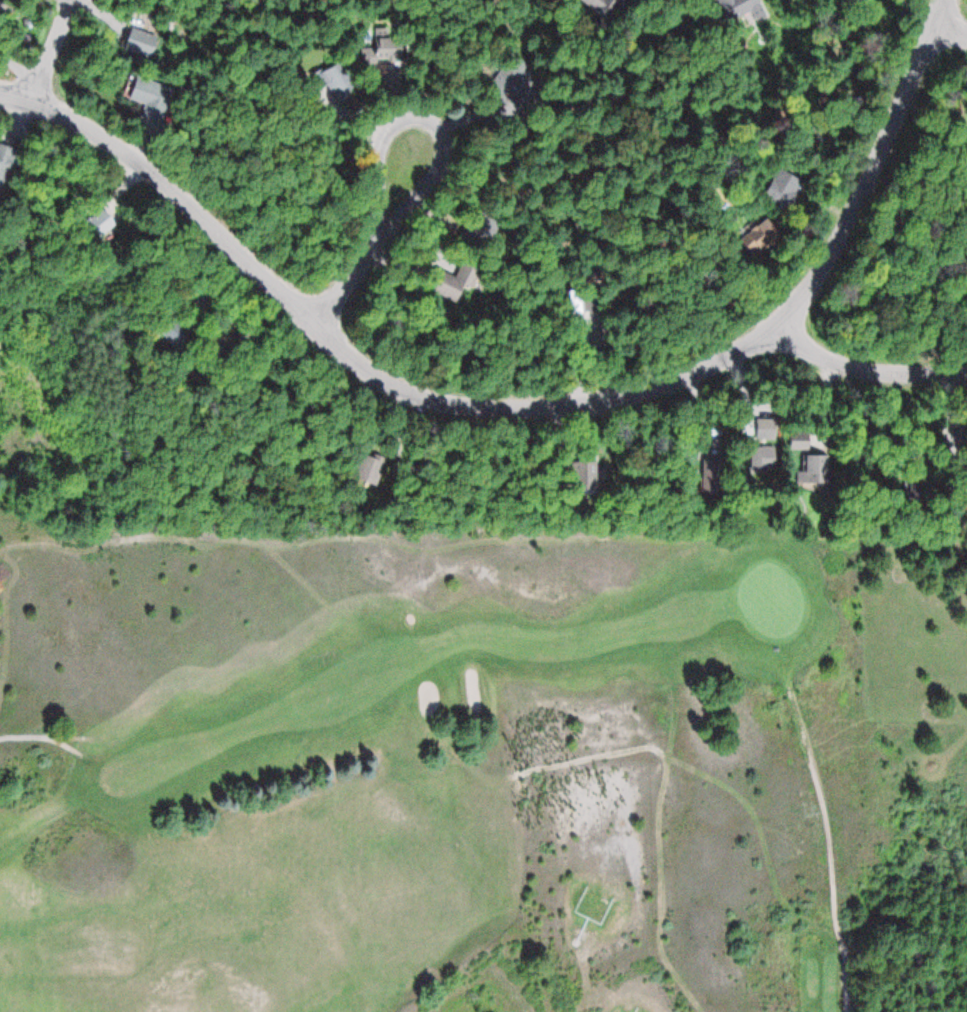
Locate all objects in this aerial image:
road: (65, 5)
road: (72, 5)
road: (947, 31)
road: (45, 54)
building: (336, 80)
road: (443, 160)
building: (5, 166)
building: (783, 188)
building: (100, 225)
building: (576, 302)
building: (175, 331)
road: (863, 372)
road: (526, 408)
building: (765, 428)
building: (798, 441)
building: (762, 458)
building: (371, 468)
building: (815, 469)
building: (598, 473)
building: (719, 481)
road: (28, 735)
park: (458, 799)
road: (828, 851)

